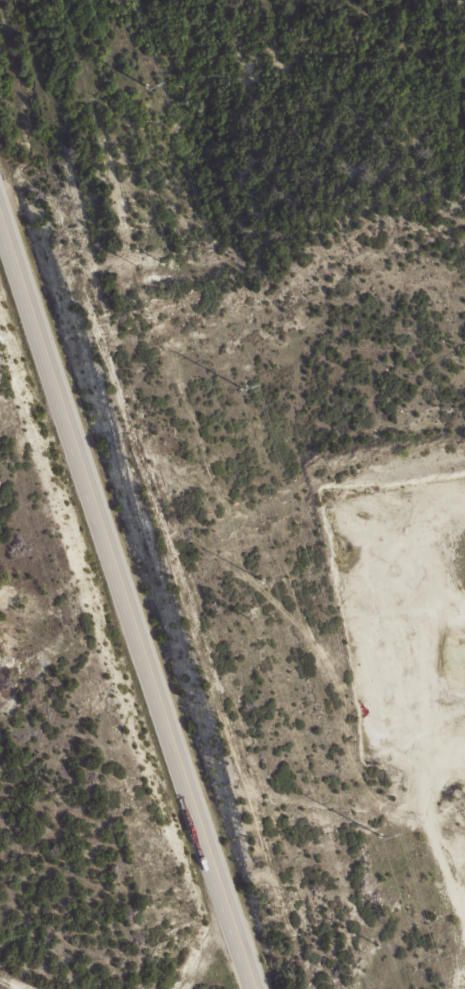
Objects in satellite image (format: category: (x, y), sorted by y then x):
power tower: (144, 86)
power tower: (161, 259)
power tower: (138, 266)
power tower: (239, 389)
power tower: (261, 580)
road: (124, 603)
power tower: (249, 620)
power tower: (378, 835)
power tower: (376, 944)
road: (202, 953)
road: (16, 983)

